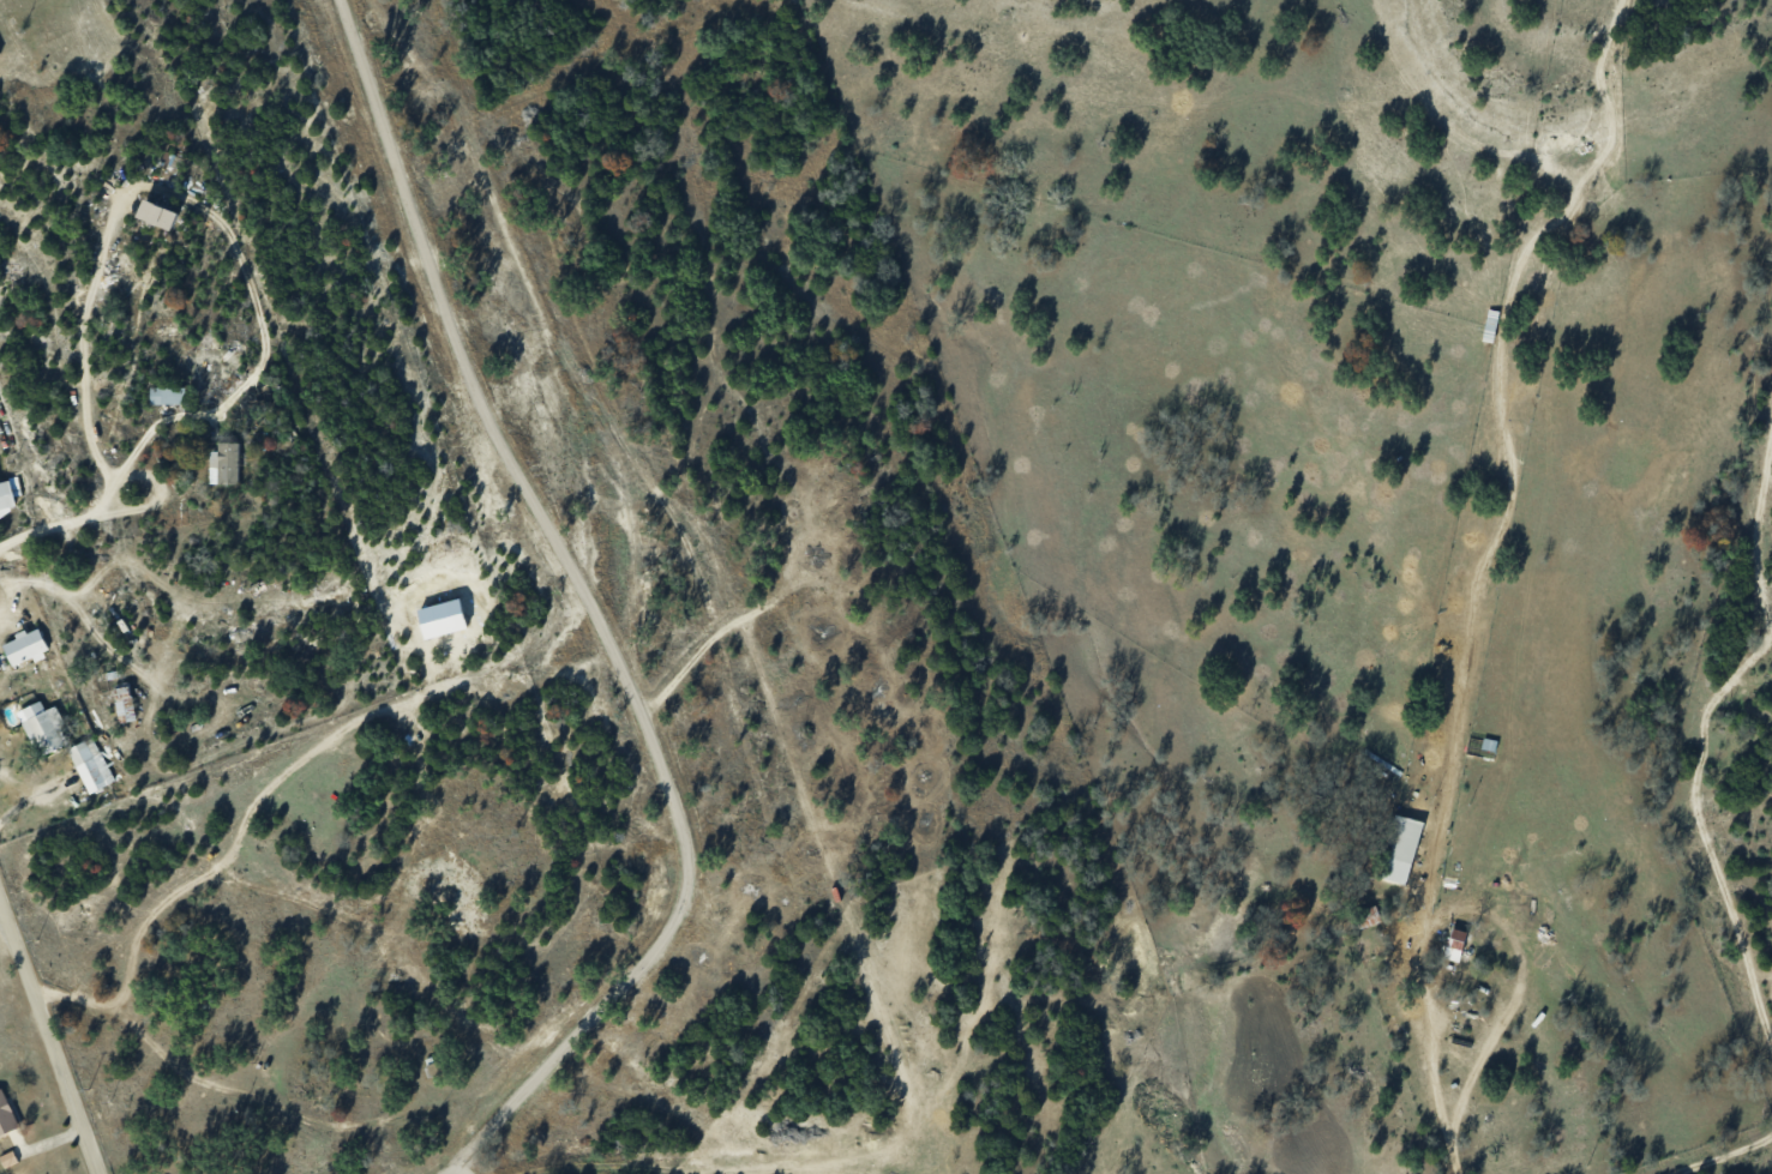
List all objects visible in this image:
building: (0, 52)
road: (197, 205)
building: (161, 213)
building: (168, 395)
building: (226, 463)
building: (7, 499)
road: (154, 504)
road: (65, 526)
road: (10, 594)
road: (594, 614)
building: (444, 618)
building: (26, 646)
road: (108, 650)
building: (126, 702)
building: (46, 727)
building: (91, 764)
road: (30, 795)
building: (1402, 848)
road: (1471, 908)
building: (1456, 944)
road: (44, 1037)
building: (6, 1115)
building: (10, 1158)
road: (1452, 1160)

